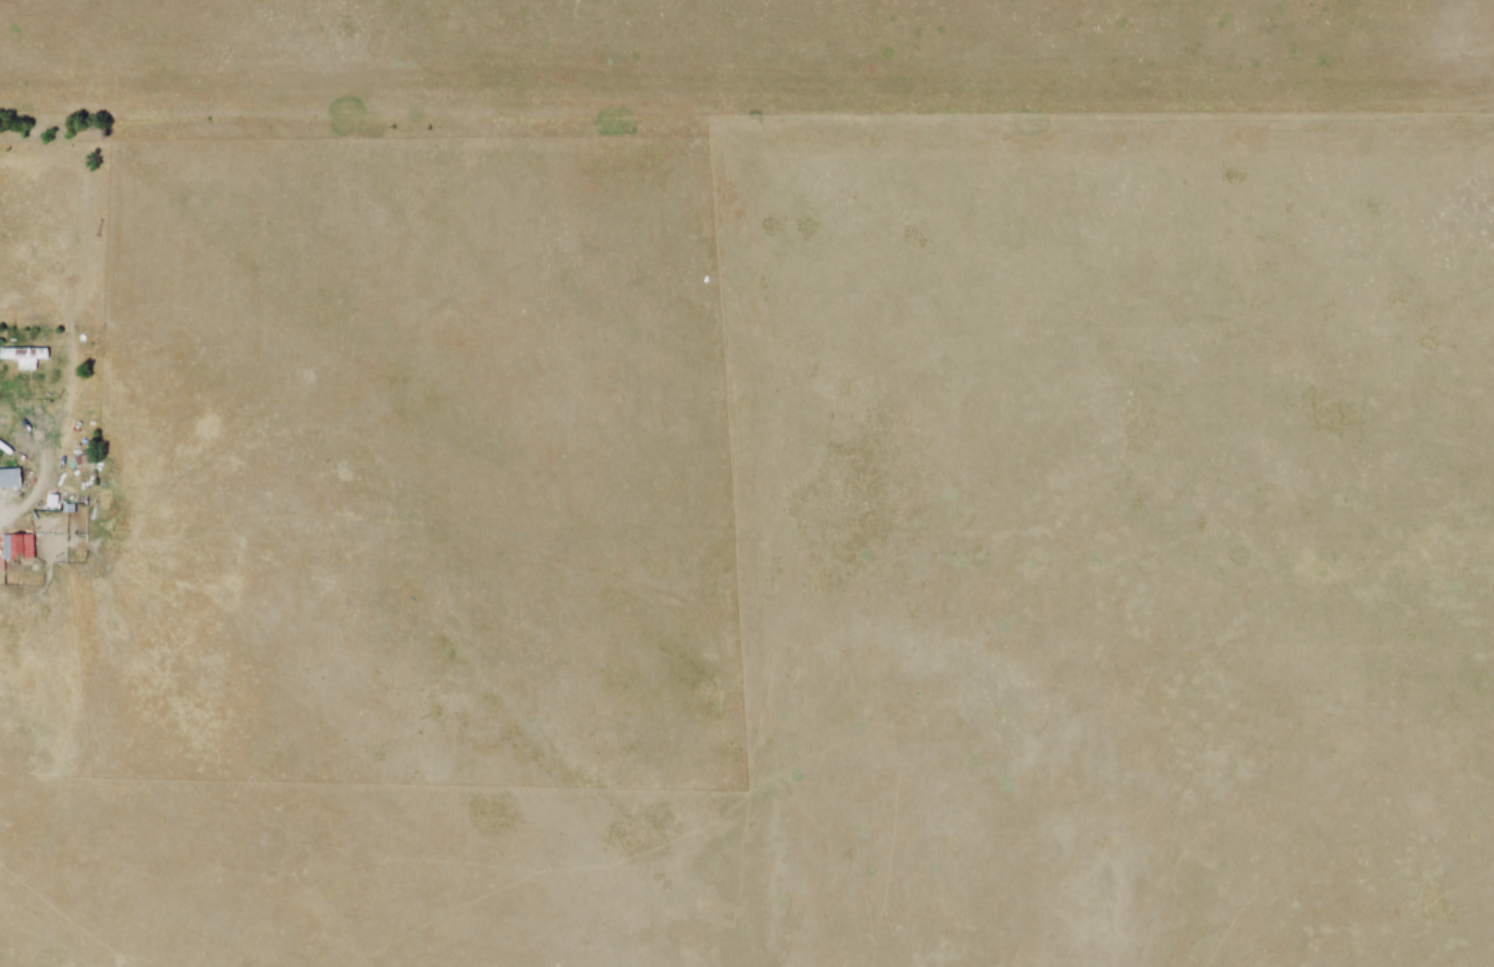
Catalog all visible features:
building: (9, 478)
road: (3, 518)
building: (16, 547)

